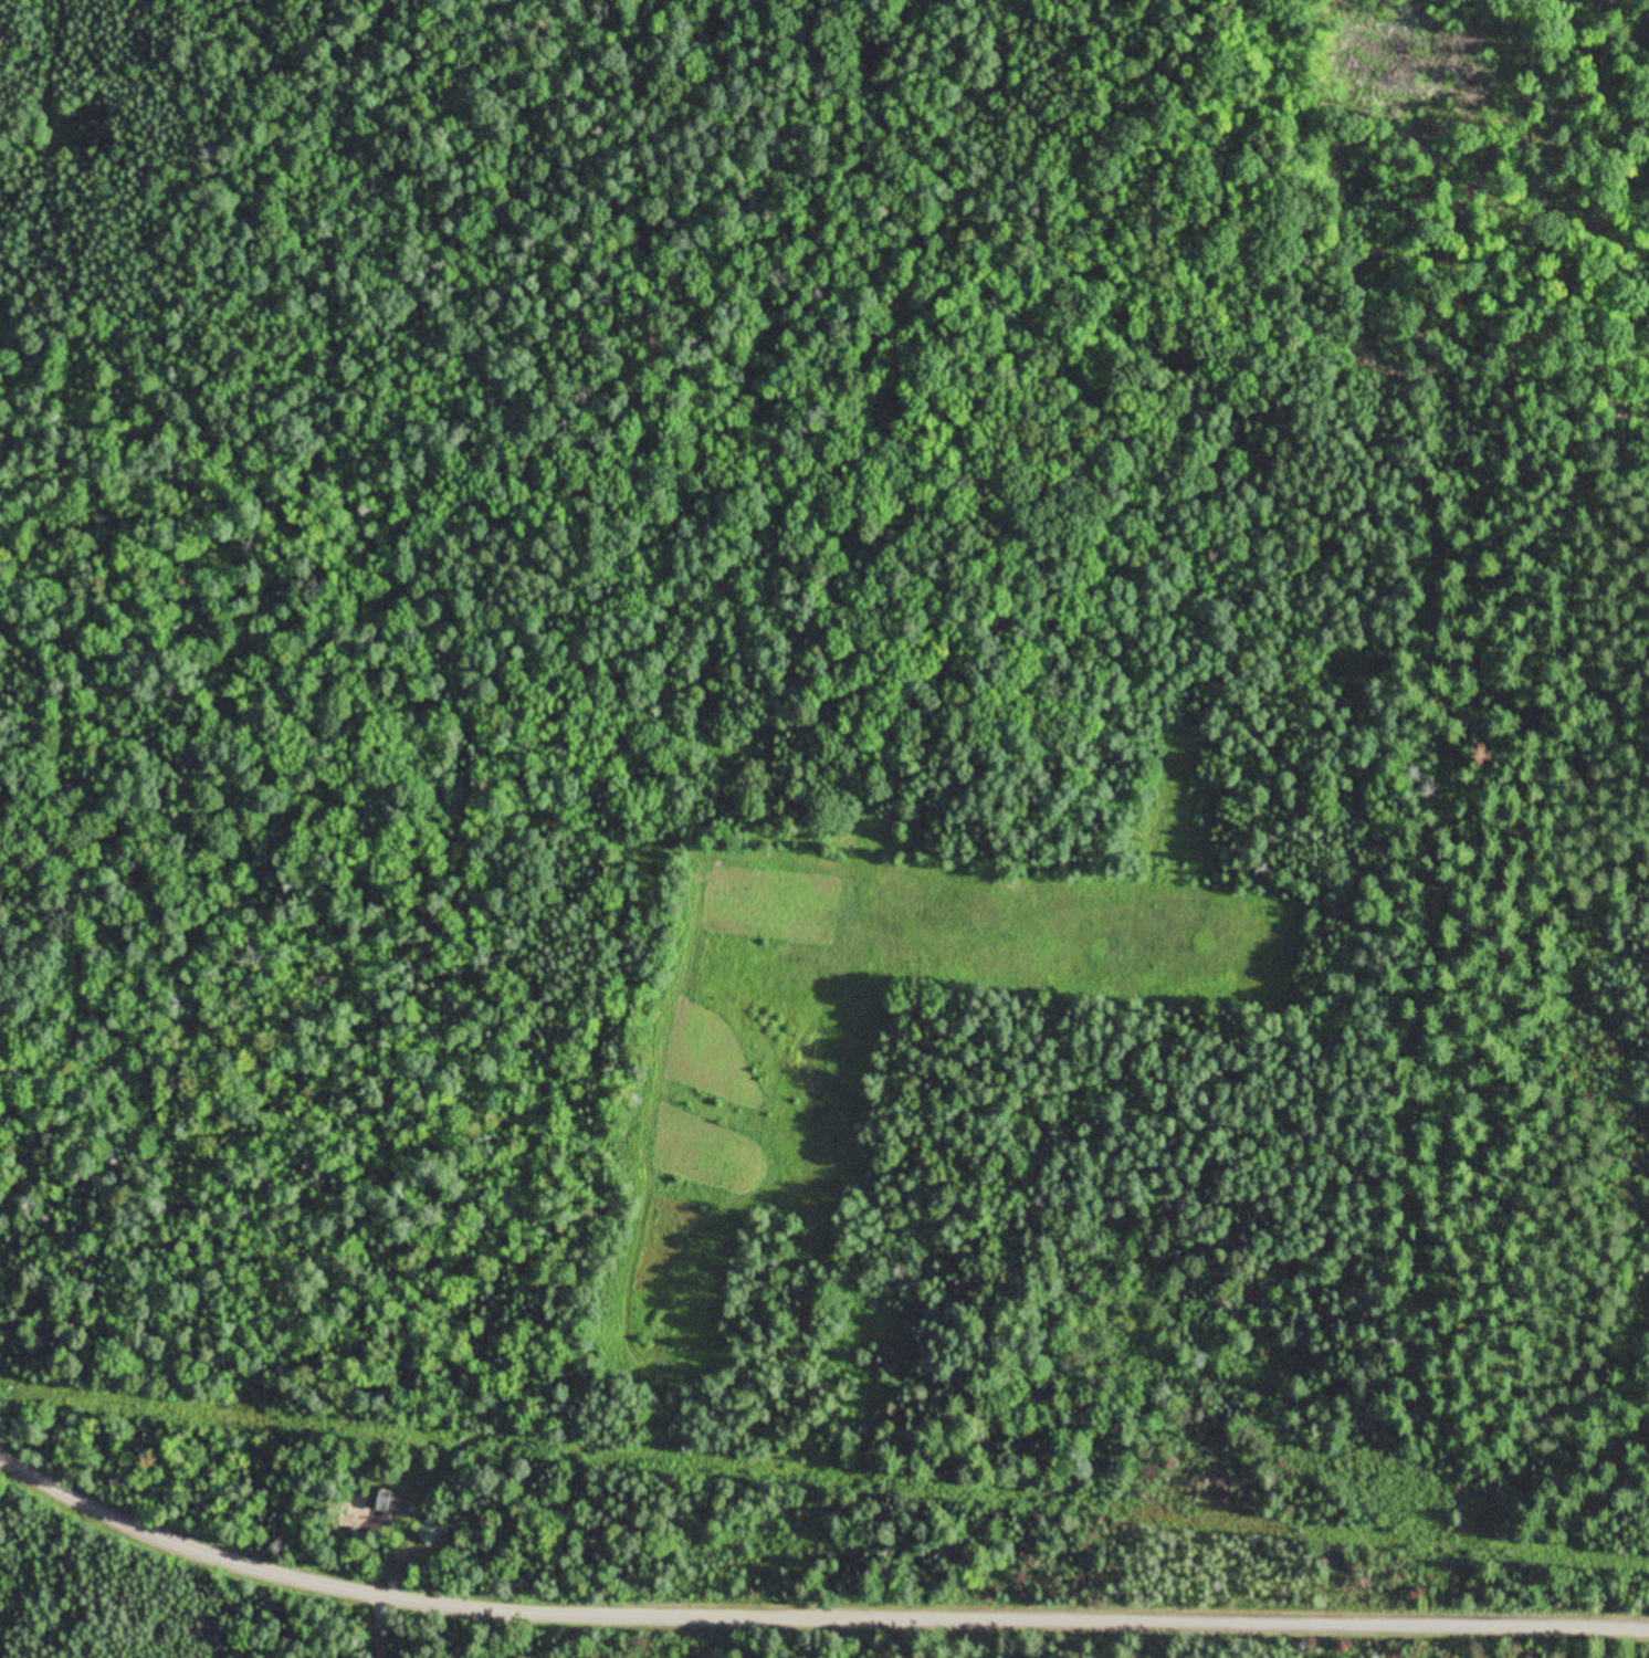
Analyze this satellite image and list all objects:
building: (643, 870)
building: (384, 1508)
road: (807, 1619)

